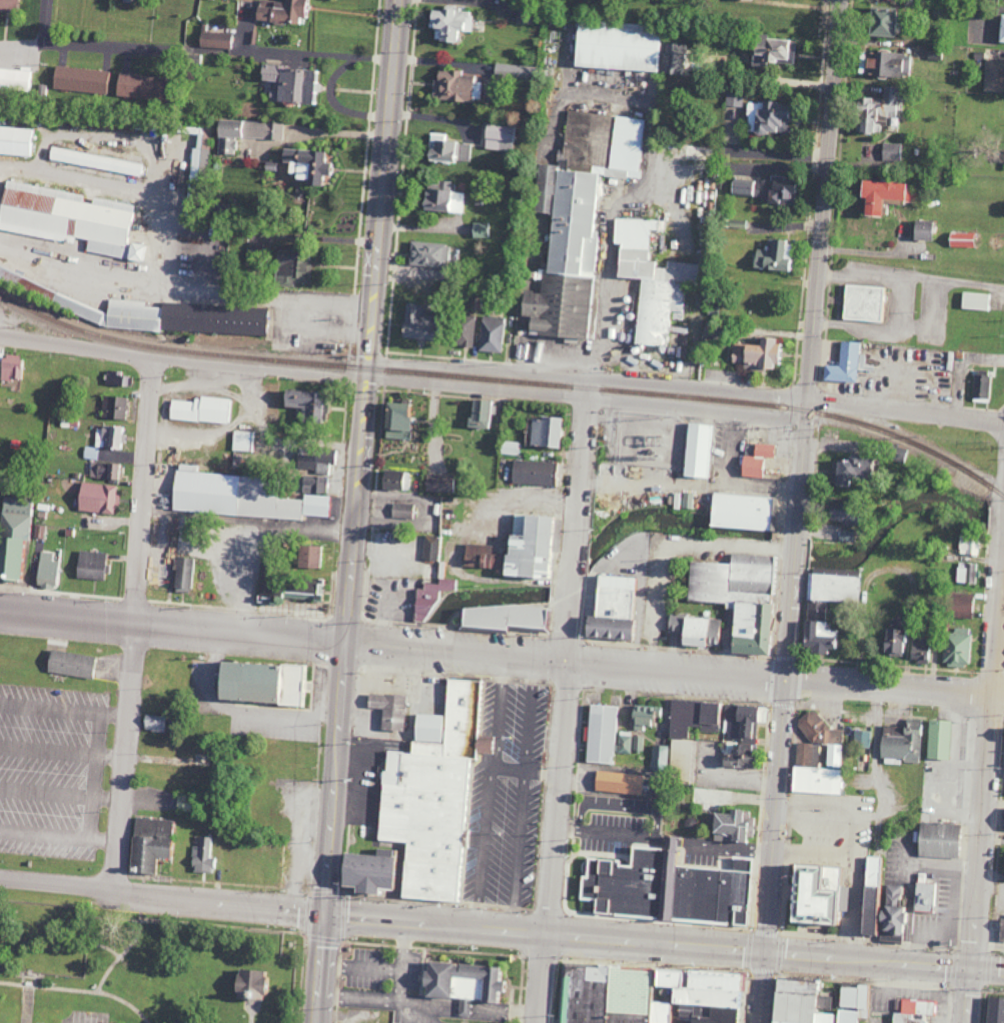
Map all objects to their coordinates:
building: (742, 0)
building: (9, 5)
building: (278, 12)
building: (878, 20)
building: (448, 22)
building: (1000, 29)
building: (215, 41)
building: (624, 47)
road: (319, 54)
building: (883, 63)
building: (509, 71)
building: (993, 74)
building: (80, 81)
building: (291, 83)
building: (456, 85)
building: (137, 87)
building: (734, 98)
road: (336, 104)
building: (766, 117)
building: (109, 124)
building: (497, 137)
building: (226, 138)
building: (17, 141)
building: (445, 151)
building: (890, 151)
building: (696, 153)
building: (1003, 157)
building: (96, 161)
building: (303, 164)
building: (739, 187)
building: (875, 193)
building: (440, 198)
building: (577, 216)
building: (69, 219)
building: (481, 229)
building: (920, 229)
building: (960, 239)
building: (427, 253)
building: (773, 256)
building: (292, 267)
road: (911, 277)
building: (649, 279)
building: (974, 301)
building: (860, 302)
building: (159, 312)
building: (413, 321)
road: (882, 328)
building: (463, 330)
building: (490, 334)
building: (757, 352)
road: (184, 358)
building: (842, 364)
building: (10, 367)
building: (117, 378)
road: (590, 379)
railway: (506, 381)
building: (980, 388)
road: (589, 396)
building: (301, 402)
building: (113, 407)
building: (200, 410)
road: (906, 410)
building: (479, 412)
building: (396, 420)
building: (542, 432)
building: (110, 437)
building: (242, 441)
building: (697, 450)
building: (91, 453)
road: (363, 455)
building: (754, 460)
building: (315, 461)
road: (581, 462)
building: (849, 469)
building: (106, 470)
building: (532, 473)
road: (803, 475)
building: (393, 480)
building: (438, 483)
building: (315, 484)
building: (229, 495)
building: (97, 497)
building: (315, 505)
building: (401, 511)
building: (741, 511)
building: (837, 511)
building: (840, 534)
building: (13, 535)
building: (968, 546)
building: (430, 548)
building: (520, 548)
building: (307, 556)
building: (91, 565)
road: (575, 569)
building: (46, 570)
building: (965, 572)
building: (182, 574)
building: (289, 588)
building: (736, 596)
building: (429, 598)
building: (826, 605)
building: (961, 605)
building: (610, 608)
building: (501, 617)
road: (135, 621)
building: (699, 632)
road: (392, 641)
building: (892, 642)
building: (955, 647)
building: (918, 649)
building: (70, 664)
road: (895, 682)
building: (259, 683)
road: (64, 709)
building: (388, 710)
building: (641, 716)
building: (744, 718)
building: (155, 723)
building: (600, 733)
building: (822, 736)
building: (861, 738)
building: (937, 739)
building: (624, 743)
building: (901, 743)
building: (638, 744)
road: (62, 753)
building: (681, 753)
building: (658, 754)
building: (806, 754)
building: (735, 755)
building: (1003, 756)
road: (562, 761)
road: (988, 768)
building: (814, 780)
building: (616, 782)
building: (431, 794)
road: (61, 795)
building: (1003, 821)
building: (731, 826)
road: (59, 836)
building: (936, 839)
building: (148, 843)
building: (203, 855)
building: (664, 887)
road: (163, 893)
building: (814, 893)
building: (924, 897)
building: (864, 910)
building: (888, 915)
road: (545, 930)
building: (1000, 930)
park: (153, 957)
road: (884, 959)
road: (324, 967)
road: (543, 976)
building: (457, 982)
building: (248, 985)
road: (761, 986)
building: (642, 995)
road: (968, 995)
building: (814, 1003)
building: (463, 1008)
building: (993, 1010)
building: (911, 1012)

